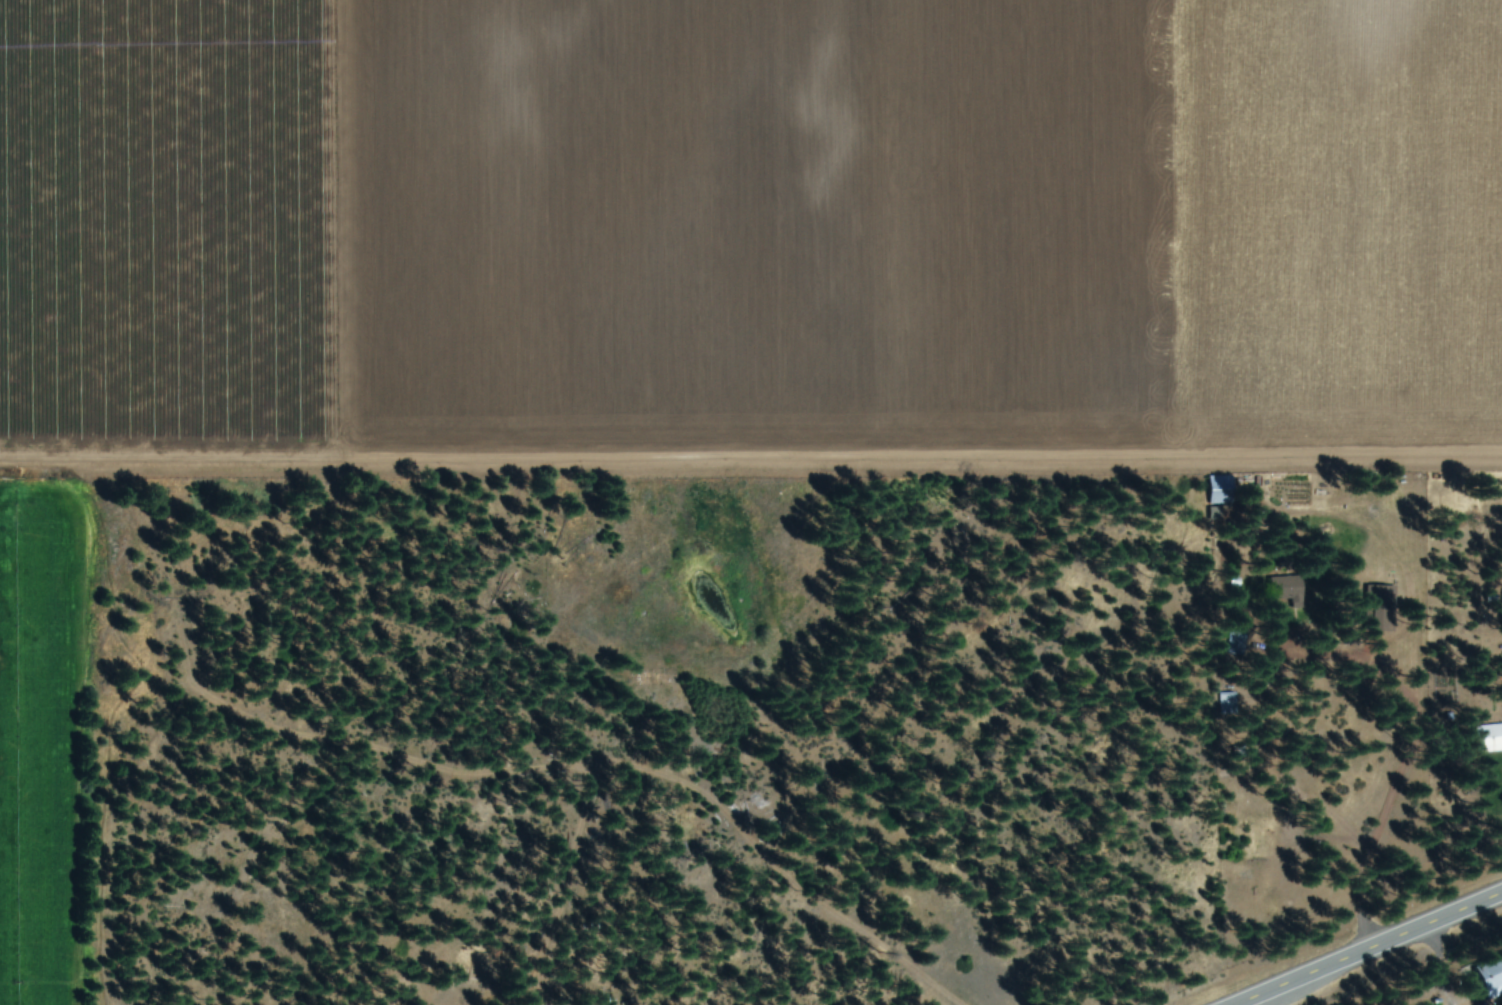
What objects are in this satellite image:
building: (1216, 491)
building: (1377, 595)
building: (1486, 739)
road: (1373, 951)
building: (1488, 978)

